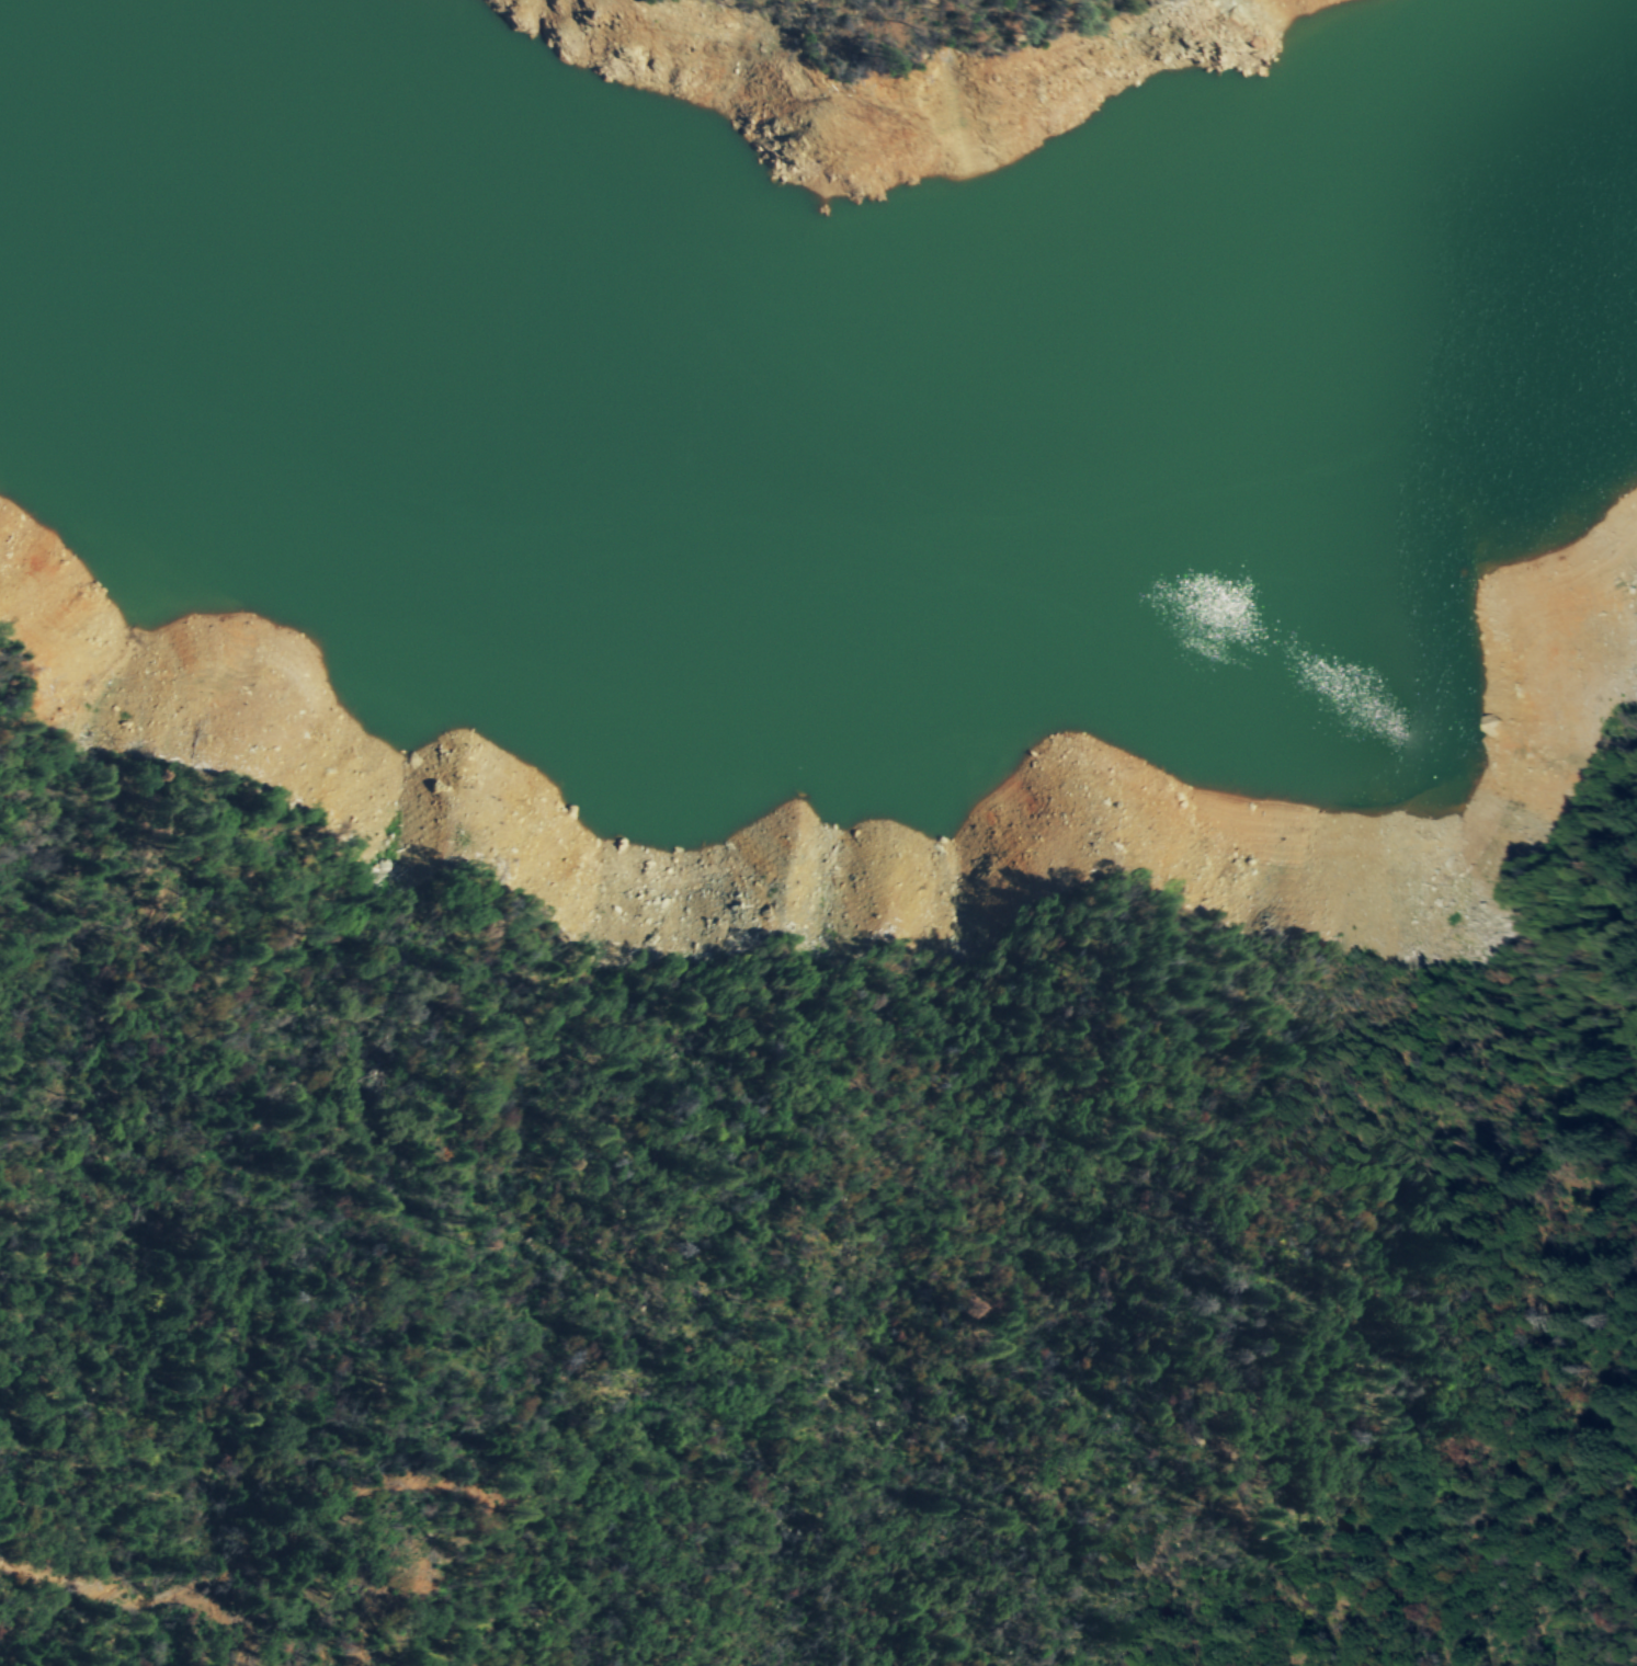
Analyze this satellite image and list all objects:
river: (175, 190)
river: (1023, 457)

